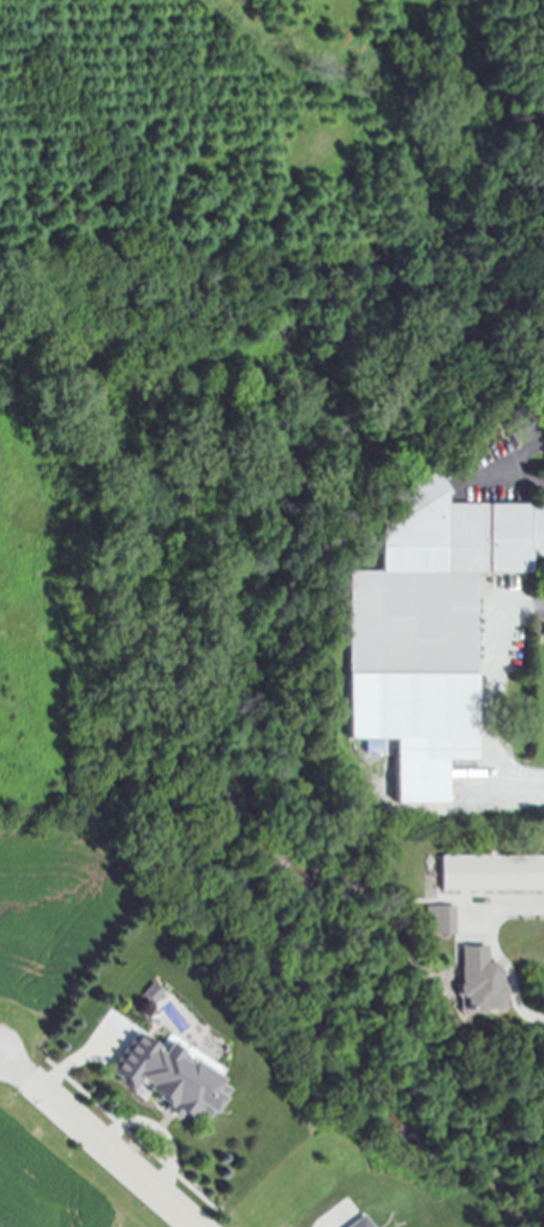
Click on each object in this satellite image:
road: (518, 478)
building: (422, 630)
road: (491, 695)
building: (490, 875)
building: (436, 922)
road: (495, 951)
building: (474, 982)
building: (161, 1080)
road: (97, 1140)
building: (355, 1223)

